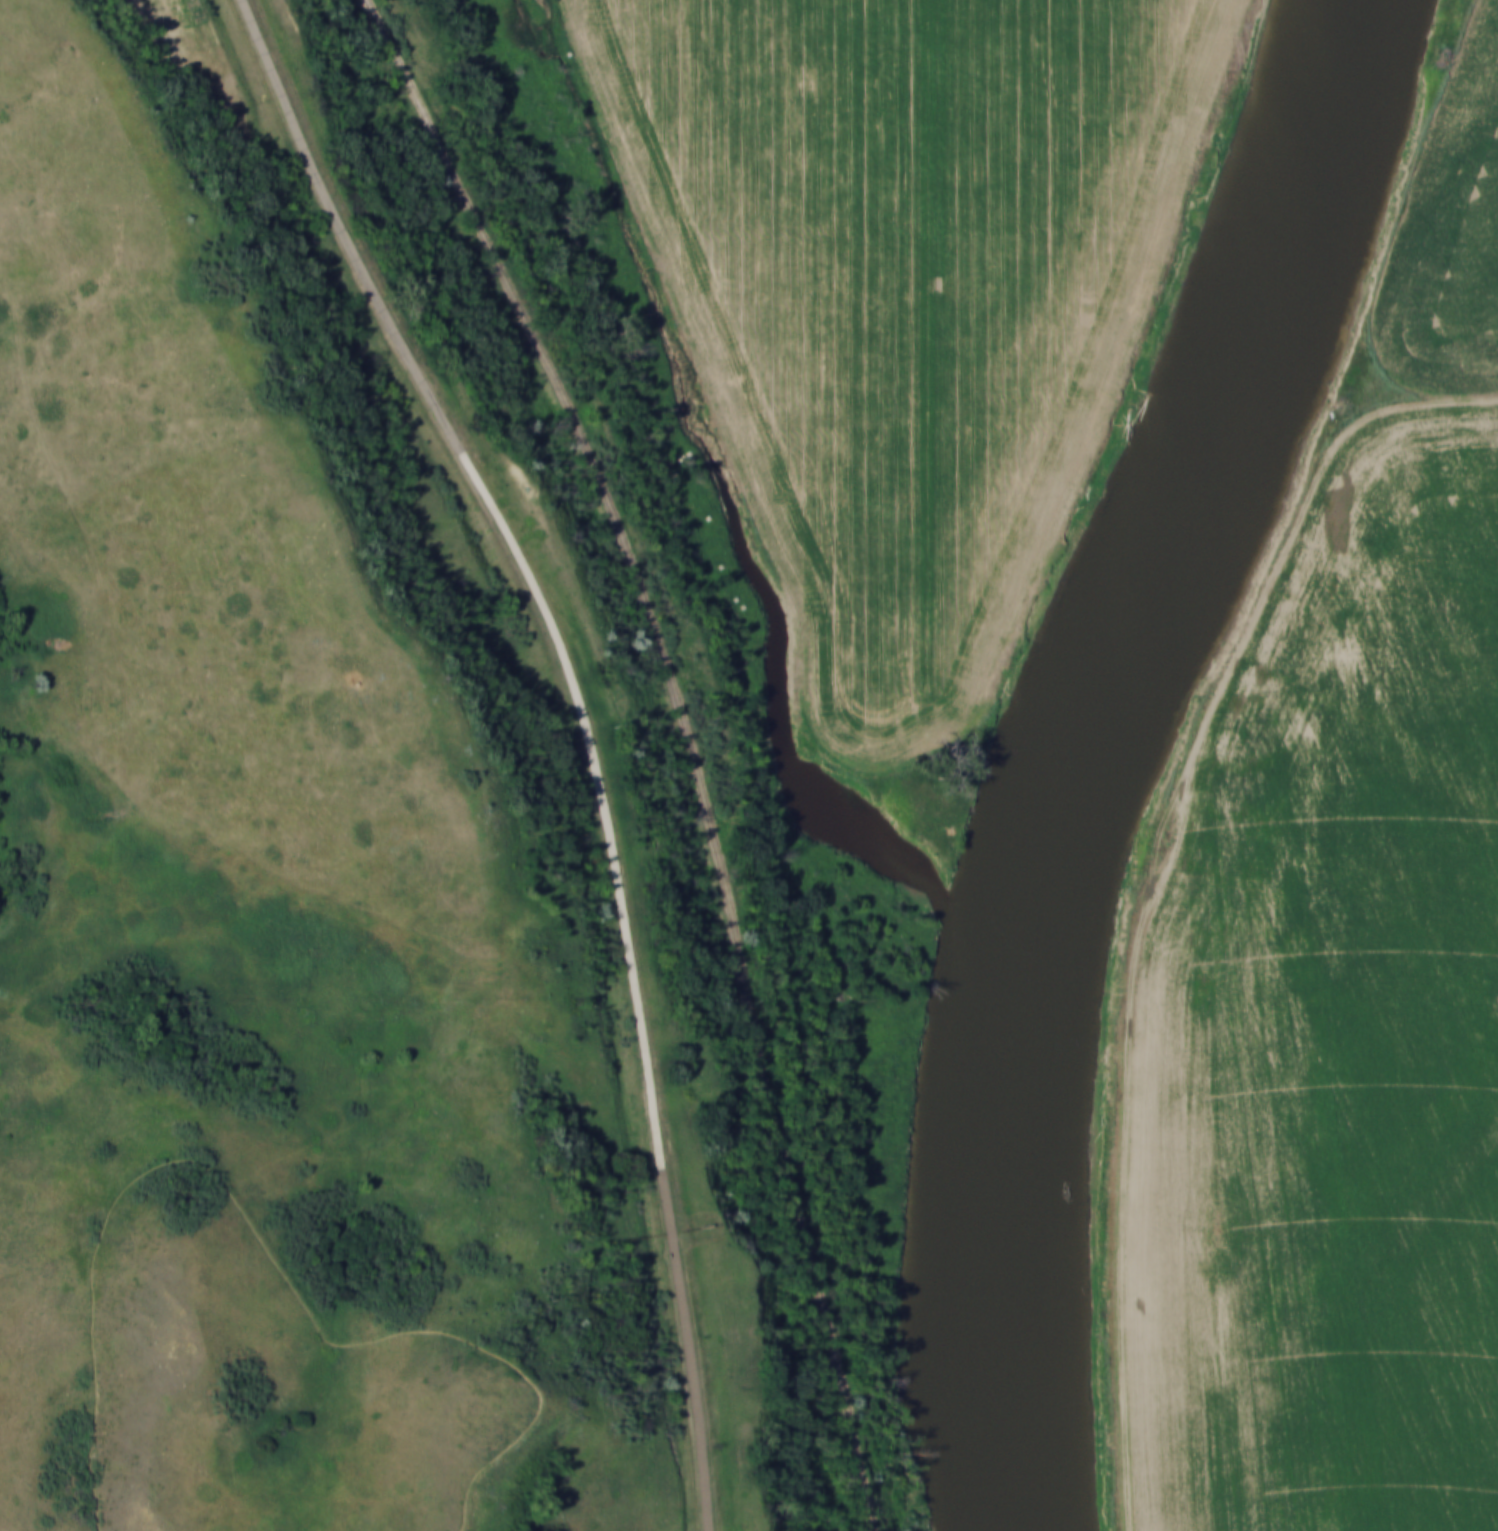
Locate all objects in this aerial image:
road: (592, 730)
railway: (694, 742)
river: (1088, 750)
park: (505, 1269)

